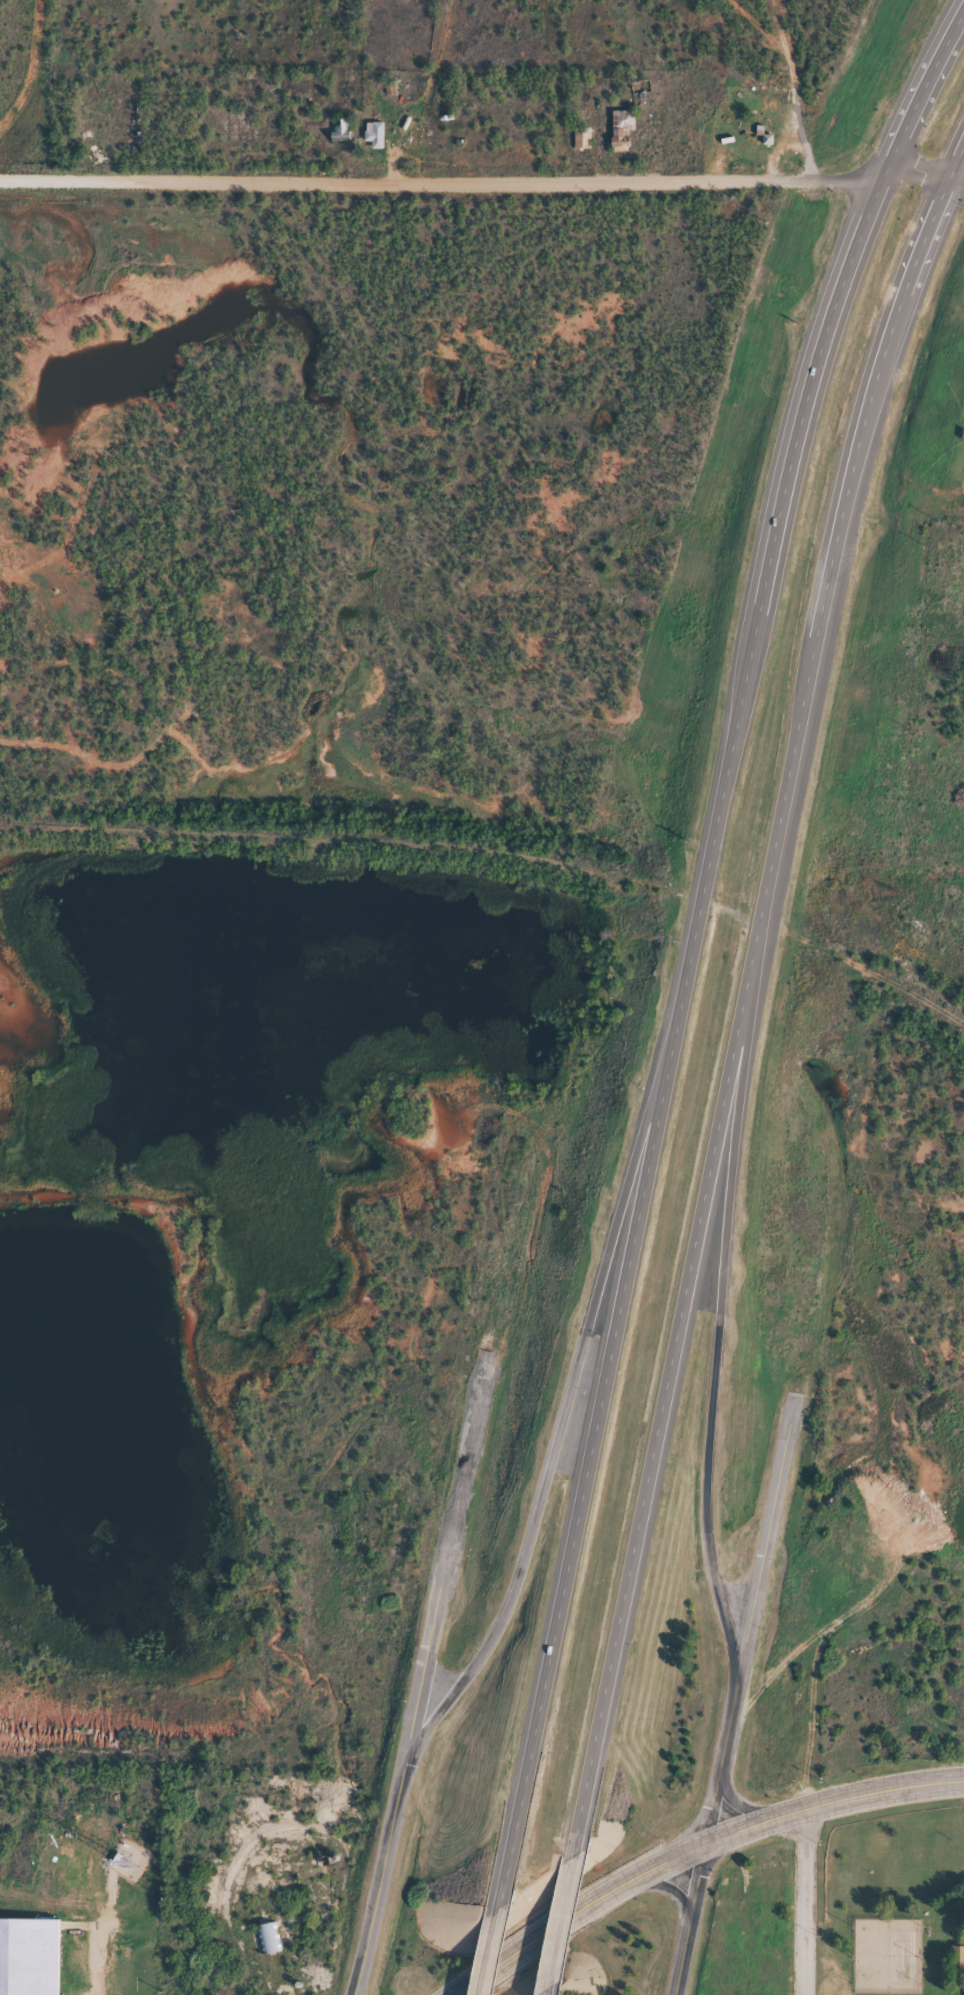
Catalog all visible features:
building: (622, 134)
building: (341, 139)
building: (375, 142)
building: (582, 147)
road: (482, 181)
railway: (497, 857)
road: (687, 945)
road: (740, 996)
road: (720, 1321)
road: (584, 1348)
road: (763, 1541)
road: (443, 1575)
road: (738, 1588)
road: (439, 1679)
road: (741, 1807)
road: (707, 1841)
road: (695, 1851)
road: (670, 1886)
road: (374, 1895)
road: (803, 1900)
road: (551, 1923)
building: (269, 1945)
road: (485, 1950)
building: (29, 1960)
road: (356, 1991)
road: (537, 1992)

